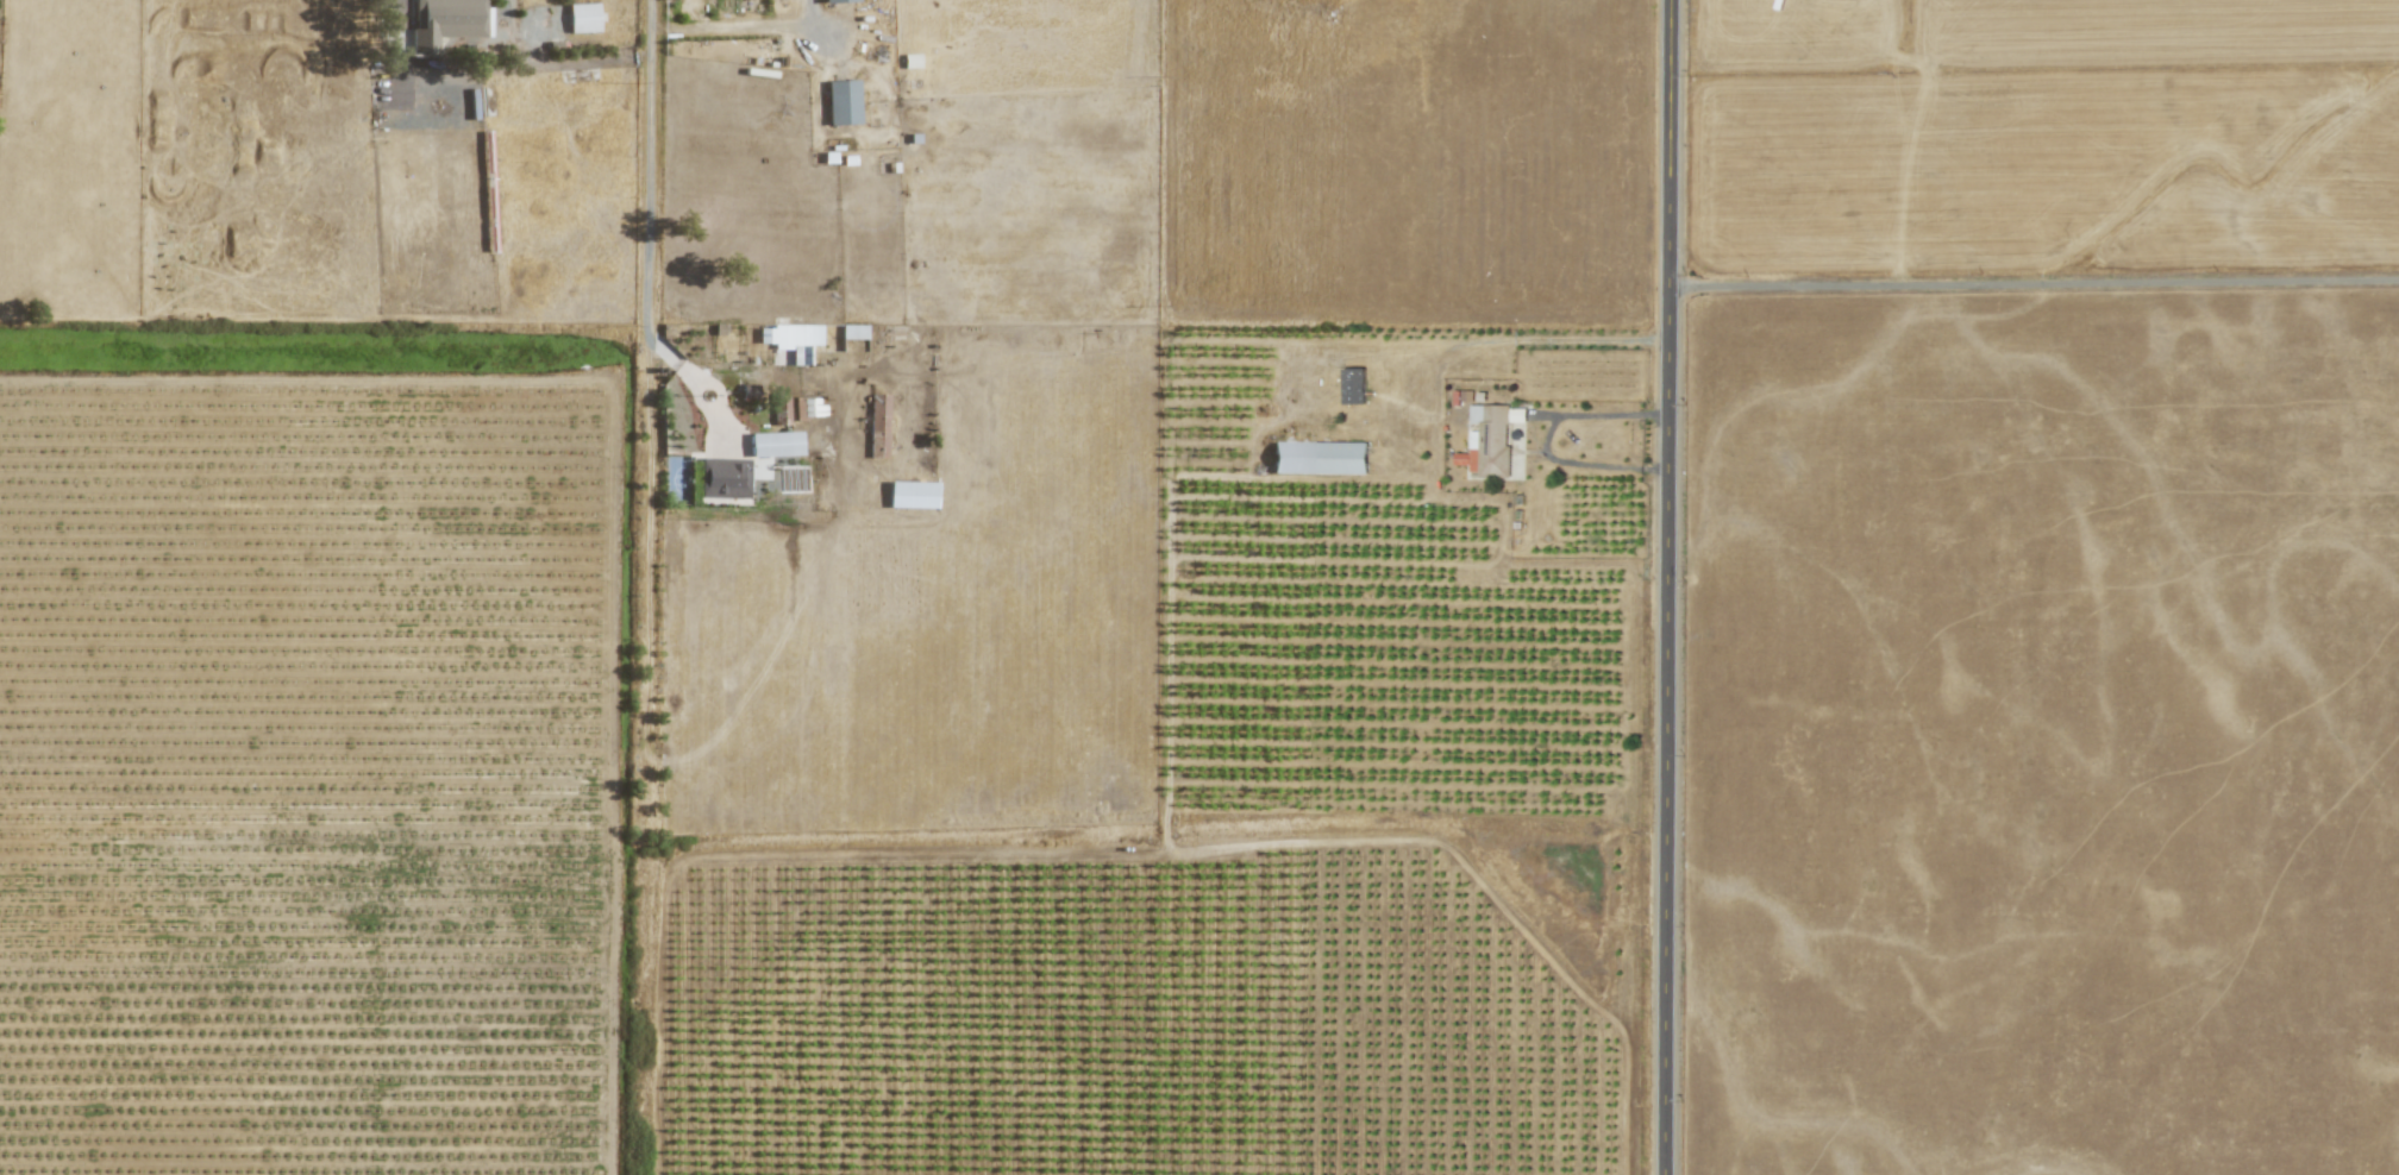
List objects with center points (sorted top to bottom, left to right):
building: (837, 0)
building: (582, 17)
building: (444, 21)
road: (793, 26)
road: (819, 26)
building: (910, 59)
road: (487, 67)
building: (841, 101)
road: (656, 152)
road: (2035, 281)
building: (852, 331)
building: (791, 339)
road: (1556, 341)
building: (1354, 385)
building: (810, 407)
building: (782, 409)
road: (1603, 413)
building: (877, 425)
building: (1490, 439)
building: (775, 444)
building: (1318, 457)
road: (1586, 463)
building: (724, 477)
building: (912, 494)
road: (1670, 586)

